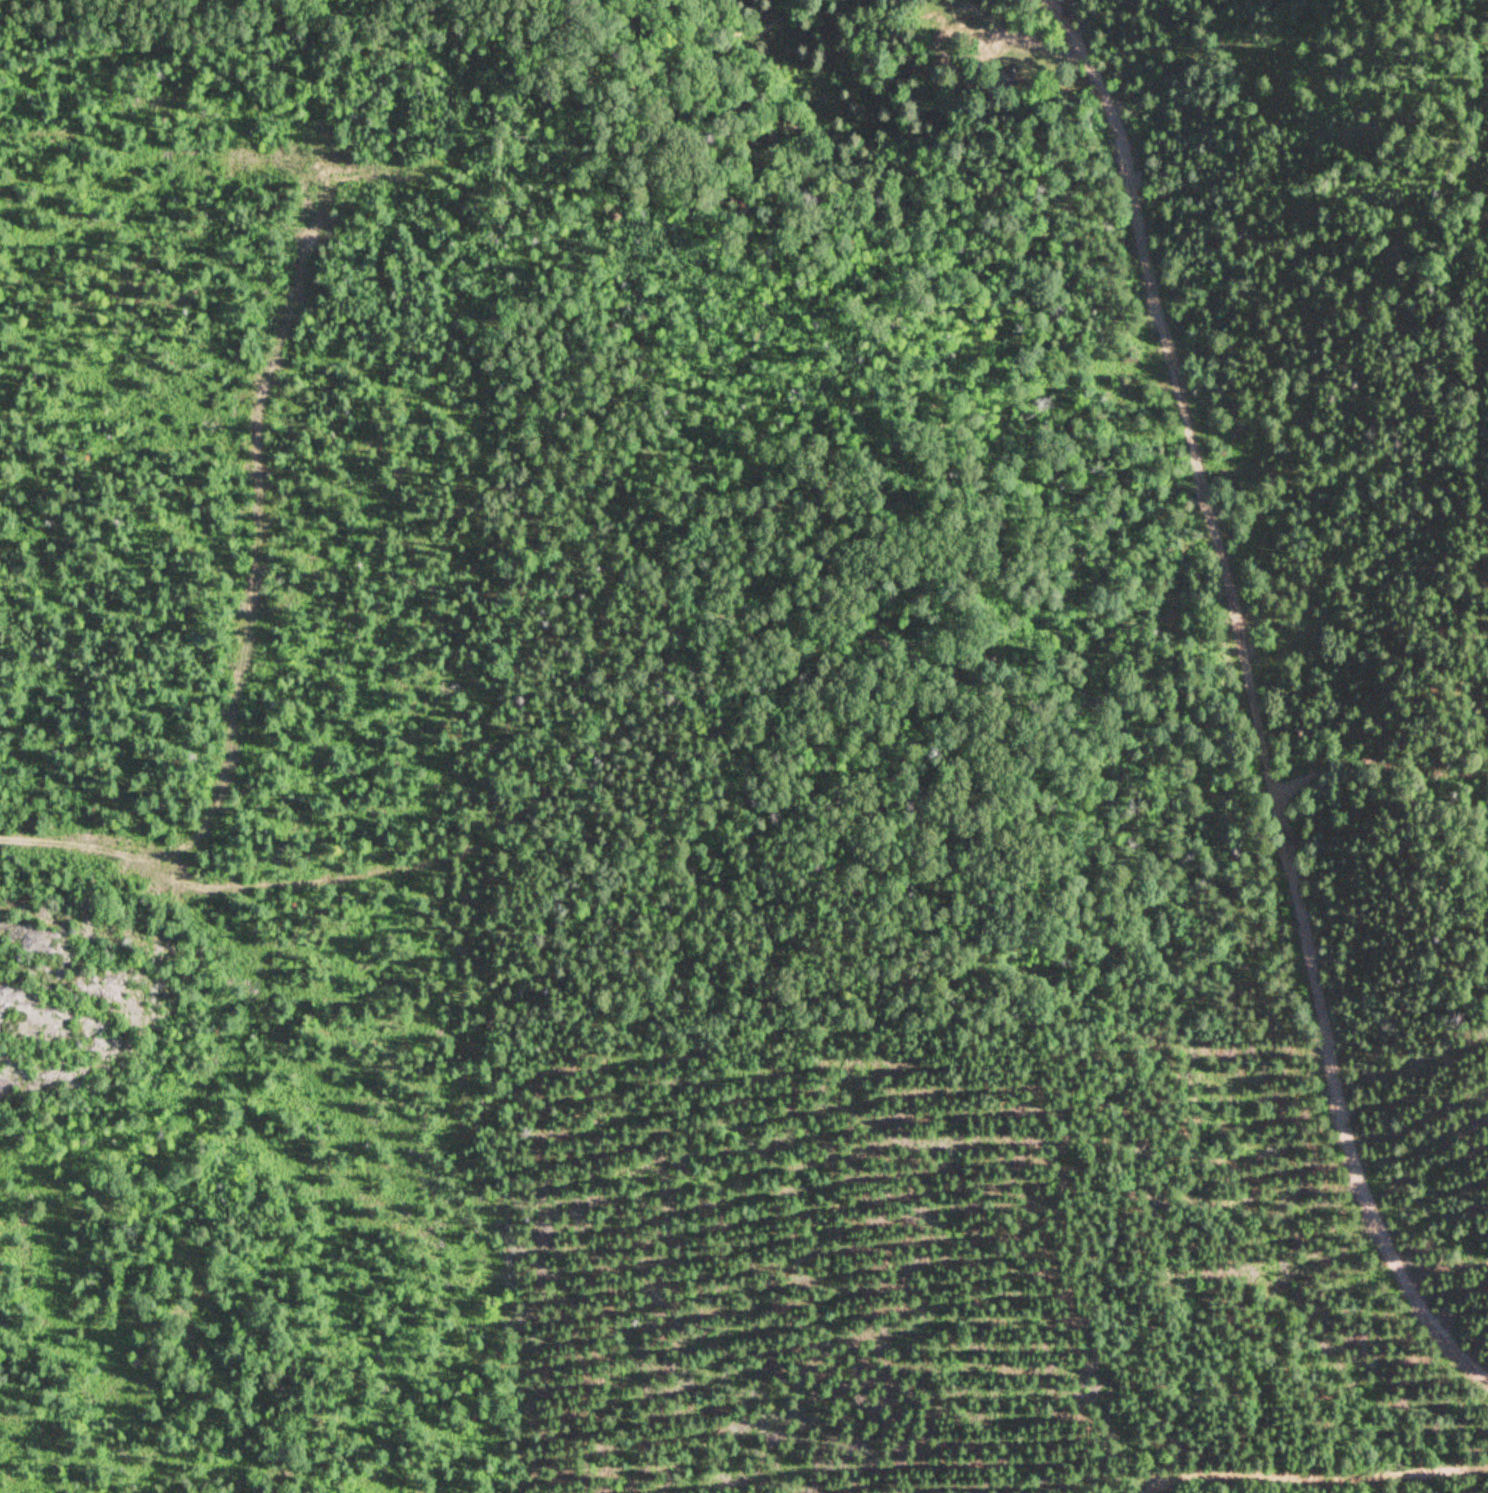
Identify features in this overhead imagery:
road: (1251, 704)
road: (1380, 773)
road: (1316, 1476)

